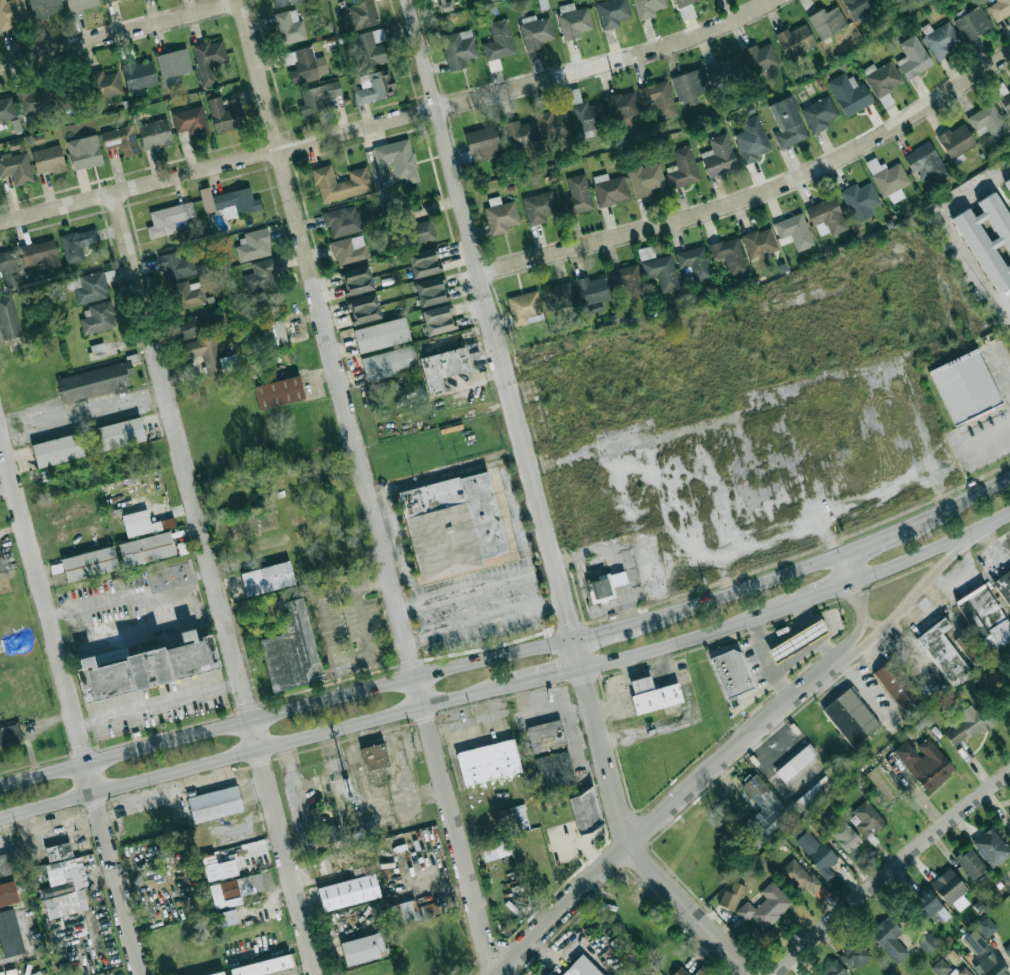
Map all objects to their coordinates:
building: (108, 1)
building: (282, 2)
building: (683, 3)
building: (80, 4)
building: (445, 5)
building: (860, 6)
building: (647, 7)
building: (44, 8)
building: (999, 9)
building: (612, 12)
building: (12, 13)
building: (362, 14)
building: (573, 20)
building: (827, 21)
building: (972, 23)
building: (289, 26)
building: (535, 31)
road: (120, 34)
building: (499, 40)
building: (794, 40)
building: (941, 40)
building: (371, 47)
building: (458, 48)
building: (913, 56)
building: (759, 57)
building: (208, 60)
building: (304, 64)
building: (173, 66)
building: (723, 71)
building: (139, 74)
building: (883, 82)
building: (105, 85)
building: (690, 85)
building: (375, 87)
building: (848, 93)
building: (318, 96)
building: (1003, 96)
building: (658, 98)
building: (33, 100)
building: (63, 100)
building: (621, 105)
building: (7, 108)
building: (584, 112)
building: (819, 113)
building: (225, 115)
building: (190, 120)
road: (391, 120)
building: (987, 121)
building: (787, 122)
building: (553, 125)
building: (0, 128)
building: (520, 133)
building: (155, 134)
building: (120, 140)
building: (751, 140)
building: (956, 140)
building: (482, 143)
building: (84, 151)
building: (718, 155)
building: (48, 159)
building: (396, 160)
building: (926, 162)
building: (16, 167)
building: (683, 167)
building: (887, 177)
building: (645, 179)
building: (340, 182)
building: (1008, 184)
building: (609, 189)
building: (577, 195)
road: (759, 195)
building: (229, 200)
building: (860, 200)
building: (539, 207)
building: (500, 215)
building: (826, 216)
building: (169, 219)
building: (342, 220)
road: (949, 227)
building: (417, 228)
building: (793, 231)
building: (988, 239)
building: (77, 244)
building: (759, 244)
building: (349, 250)
building: (40, 253)
building: (729, 254)
building: (422, 262)
building: (694, 262)
building: (177, 265)
building: (10, 268)
building: (661, 271)
building: (262, 274)
building: (356, 279)
building: (627, 280)
building: (91, 287)
building: (430, 291)
building: (591, 293)
building: (187, 294)
building: (557, 296)
building: (364, 308)
building: (525, 308)
building: (8, 318)
building: (98, 318)
building: (437, 319)
building: (199, 325)
building: (274, 332)
building: (381, 334)
building: (204, 353)
road: (1003, 358)
building: (389, 362)
building: (442, 367)
building: (94, 381)
building: (964, 386)
building: (278, 392)
road: (94, 414)
road: (519, 422)
building: (119, 434)
road: (984, 441)
building: (60, 449)
road: (368, 487)
road: (732, 497)
road: (960, 505)
road: (527, 507)
road: (514, 514)
building: (143, 523)
road: (876, 541)
road: (991, 543)
building: (146, 548)
road: (931, 548)
road: (998, 560)
building: (89, 563)
road: (847, 569)
road: (976, 572)
road: (959, 573)
building: (266, 577)
building: (617, 578)
road: (215, 584)
building: (1003, 585)
road: (478, 588)
building: (598, 588)
road: (741, 590)
road: (920, 591)
road: (822, 592)
road: (856, 596)
traffic signals: (569, 614)
building: (984, 618)
road: (364, 620)
road: (487, 621)
road: (869, 621)
road: (329, 628)
road: (607, 629)
road: (784, 631)
road: (813, 632)
road: (858, 632)
traffic signals: (594, 633)
road: (689, 639)
building: (797, 640)
building: (289, 649)
building: (942, 651)
road: (797, 656)
road: (768, 658)
road: (626, 664)
building: (148, 667)
building: (731, 673)
traffic signals: (559, 674)
road: (624, 675)
road: (548, 676)
road: (413, 677)
building: (896, 684)
traffic signals: (588, 687)
building: (652, 694)
road: (68, 703)
road: (547, 704)
road: (158, 705)
building: (850, 716)
building: (968, 724)
building: (10, 733)
building: (545, 735)
road: (574, 735)
road: (736, 746)
road: (256, 750)
road: (125, 752)
building: (375, 756)
building: (488, 762)
road: (585, 762)
building: (796, 762)
building: (924, 763)
building: (554, 770)
building: (812, 793)
building: (215, 804)
building: (584, 808)
building: (761, 810)
building: (866, 819)
road: (400, 820)
building: (330, 833)
building: (845, 836)
building: (990, 847)
building: (495, 848)
building: (58, 851)
building: (816, 852)
building: (970, 863)
building: (8, 864)
building: (219, 869)
road: (888, 869)
building: (805, 879)
building: (65, 888)
building: (949, 888)
building: (234, 889)
building: (348, 892)
building: (8, 894)
building: (731, 896)
building: (927, 904)
building: (765, 906)
road: (564, 909)
road: (688, 909)
building: (413, 911)
building: (227, 917)
building: (986, 926)
building: (9, 934)
building: (889, 938)
building: (974, 941)
building: (927, 942)
building: (361, 949)
building: (1007, 950)
road: (564, 953)
building: (854, 954)
building: (989, 965)
building: (262, 966)
building: (940, 966)
building: (581, 967)
building: (834, 969)
building: (680, 971)
building: (702, 971)
building: (964, 971)
building: (216, 973)

